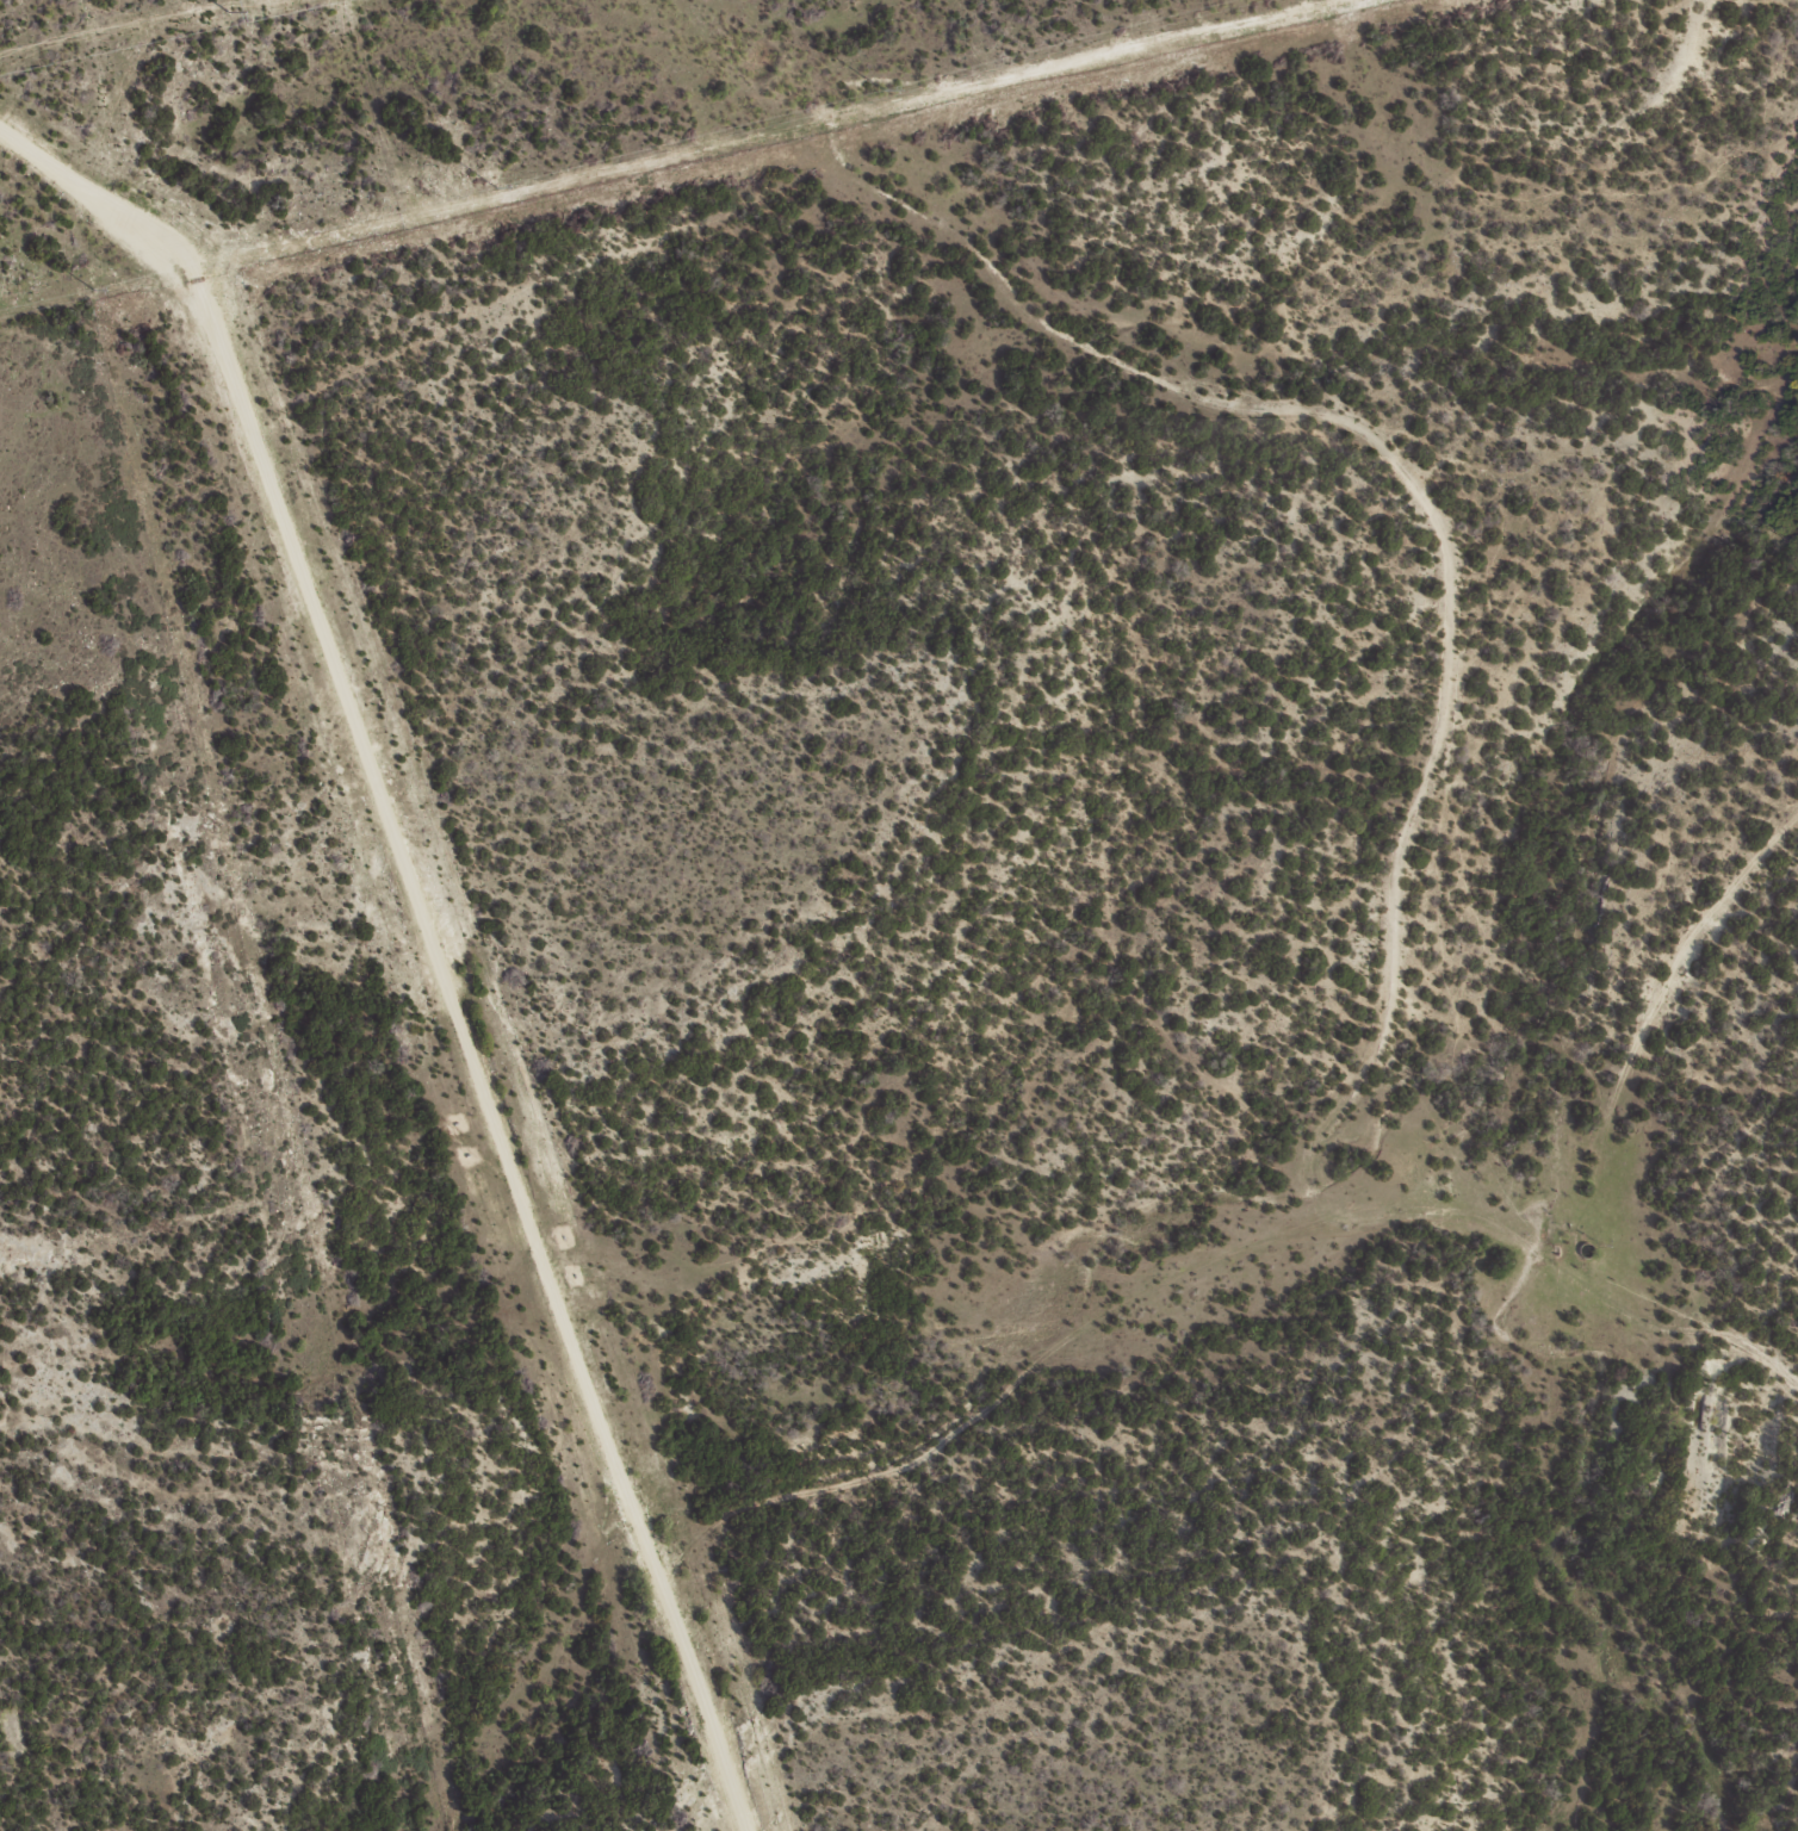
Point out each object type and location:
power tower: (225, 13)
power tower: (878, 81)
power tower: (494, 184)
power tower: (91, 290)

